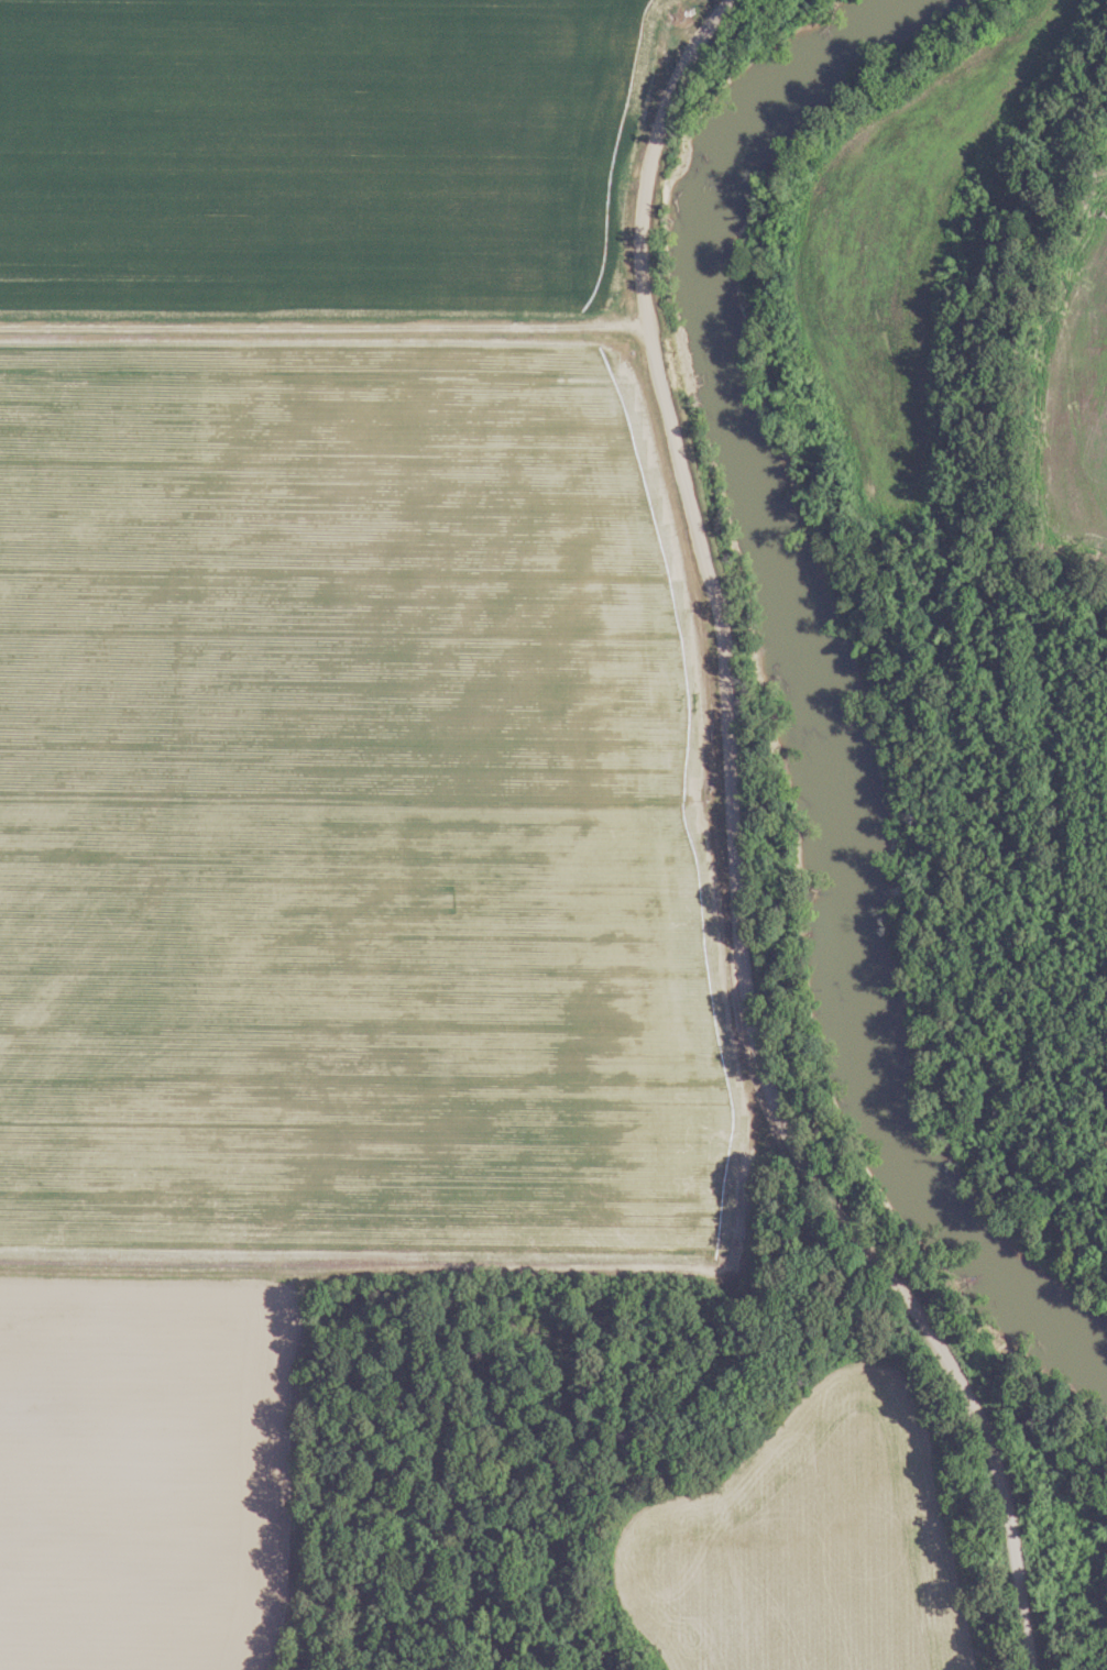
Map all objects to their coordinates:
road: (351, 35)
river: (809, 704)
road: (737, 856)

